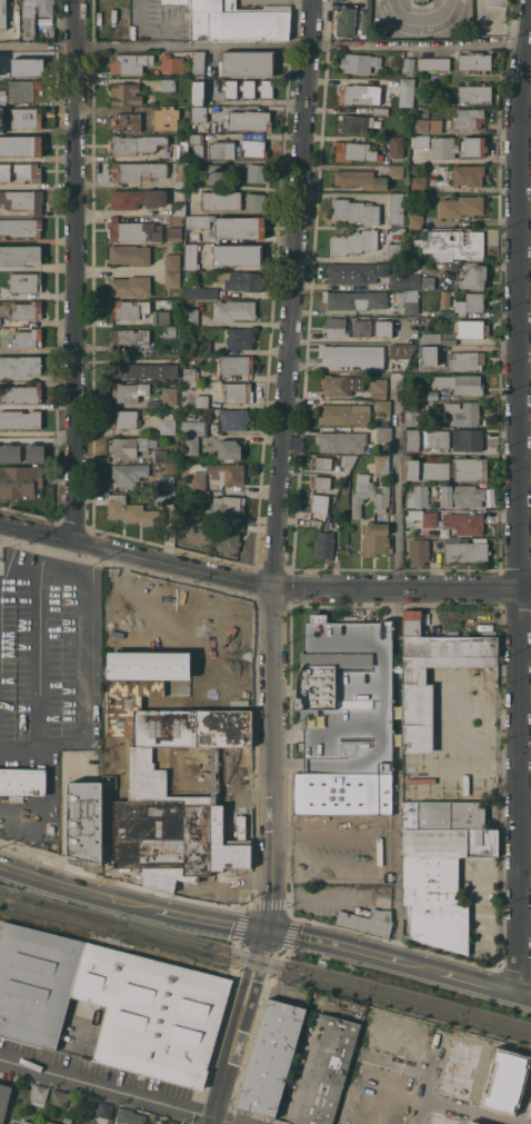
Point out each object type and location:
building: (420, 0)
building: (178, 1)
building: (497, 2)
road: (422, 12)
building: (3, 13)
building: (33, 13)
building: (238, 21)
building: (345, 22)
building: (363, 22)
building: (132, 31)
road: (265, 43)
building: (474, 61)
building: (128, 62)
building: (171, 62)
building: (359, 62)
building: (28, 63)
building: (198, 63)
building: (248, 63)
building: (433, 63)
building: (409, 64)
building: (168, 84)
building: (265, 88)
building: (230, 89)
building: (248, 89)
building: (23, 90)
building: (198, 92)
building: (407, 92)
building: (126, 93)
building: (355, 93)
building: (473, 93)
building: (380, 110)
building: (168, 113)
building: (199, 113)
building: (26, 118)
building: (468, 118)
building: (250, 120)
building: (127, 122)
building: (354, 122)
building: (421, 126)
building: (421, 141)
building: (136, 143)
building: (197, 143)
building: (21, 146)
building: (253, 147)
building: (395, 147)
building: (443, 147)
building: (473, 147)
building: (221, 149)
building: (181, 151)
building: (355, 151)
building: (137, 170)
building: (395, 171)
building: (6, 172)
building: (27, 172)
building: (257, 172)
building: (214, 173)
building: (468, 175)
building: (360, 179)
building: (180, 183)
building: (419, 183)
building: (138, 198)
building: (22, 200)
building: (221, 200)
building: (256, 201)
building: (460, 206)
building: (178, 208)
building: (397, 208)
building: (355, 210)
building: (415, 220)
building: (231, 226)
building: (21, 227)
building: (176, 228)
building: (134, 230)
building: (353, 242)
building: (451, 243)
building: (394, 251)
building: (129, 255)
building: (237, 255)
building: (19, 256)
building: (191, 256)
building: (172, 261)
road: (77, 272)
building: (351, 272)
building: (474, 277)
building: (172, 279)
building: (240, 280)
building: (404, 281)
building: (26, 282)
building: (130, 286)
building: (200, 291)
road: (294, 297)
building: (355, 300)
building: (411, 302)
building: (470, 302)
building: (130, 309)
building: (234, 309)
building: (23, 310)
building: (191, 316)
building: (161, 317)
building: (335, 328)
building: (361, 328)
building: (383, 328)
building: (170, 331)
building: (457, 332)
building: (129, 337)
building: (27, 338)
building: (240, 338)
building: (204, 346)
building: (353, 356)
building: (400, 356)
building: (427, 356)
building: (464, 361)
building: (20, 365)
building: (237, 365)
building: (143, 370)
building: (188, 374)
building: (461, 384)
building: (334, 385)
building: (379, 388)
building: (130, 390)
building: (238, 391)
building: (21, 394)
building: (431, 395)
building: (169, 396)
building: (201, 400)
building: (382, 406)
building: (462, 414)
building: (190, 415)
building: (341, 415)
building: (413, 416)
building: (20, 419)
building: (124, 419)
building: (233, 419)
building: (168, 422)
building: (192, 428)
building: (383, 434)
building: (424, 439)
building: (467, 439)
building: (341, 441)
building: (191, 445)
building: (130, 446)
building: (229, 449)
building: (10, 452)
building: (34, 452)
building: (159, 455)
building: (348, 459)
building: (322, 461)
building: (382, 466)
building: (471, 468)
building: (424, 469)
building: (227, 473)
building: (129, 474)
building: (193, 480)
building: (21, 481)
building: (167, 481)
building: (323, 481)
building: (202, 495)
building: (369, 495)
building: (418, 495)
building: (462, 495)
road: (397, 496)
building: (166, 497)
road: (517, 500)
building: (228, 505)
building: (318, 508)
building: (133, 511)
building: (430, 518)
building: (467, 524)
building: (230, 536)
building: (374, 538)
building: (324, 545)
building: (419, 550)
building: (465, 551)
road: (18, 569)
building: (160, 584)
road: (261, 590)
building: (183, 591)
building: (204, 598)
building: (218, 599)
building: (227, 601)
building: (243, 606)
road: (397, 620)
building: (241, 646)
building: (247, 654)
road: (82, 655)
road: (37, 658)
building: (414, 674)
building: (345, 696)
building: (131, 754)
building: (246, 765)
building: (22, 782)
building: (343, 793)
road: (51, 797)
road: (397, 804)
road: (9, 814)
building: (444, 815)
building: (83, 819)
power substation: (84, 819)
road: (285, 829)
road: (384, 861)
building: (440, 862)
road: (273, 863)
building: (368, 921)
building: (440, 925)
railway: (118, 926)
road: (264, 929)
traffic signals: (268, 931)
railway: (265, 958)
railway: (265, 968)
building: (36, 982)
building: (150, 1013)
building: (399, 1040)
building: (271, 1057)
road: (399, 1070)
building: (463, 1070)
building: (323, 1071)
road: (432, 1078)
building: (509, 1084)
road: (483, 1085)
building: (385, 1088)
road: (120, 1090)
building: (39, 1094)
building: (59, 1096)
building: (3, 1100)
road: (384, 1110)
road: (478, 1110)
road: (472, 1111)
building: (103, 1112)
road: (527, 1112)
building: (130, 1116)
building: (370, 1116)
building: (448, 1116)
building: (68, 1121)
building: (26, 1122)
building: (51, 1122)
building: (171, 1122)
building: (483, 1122)
building: (9, 1123)
building: (11, 1123)

